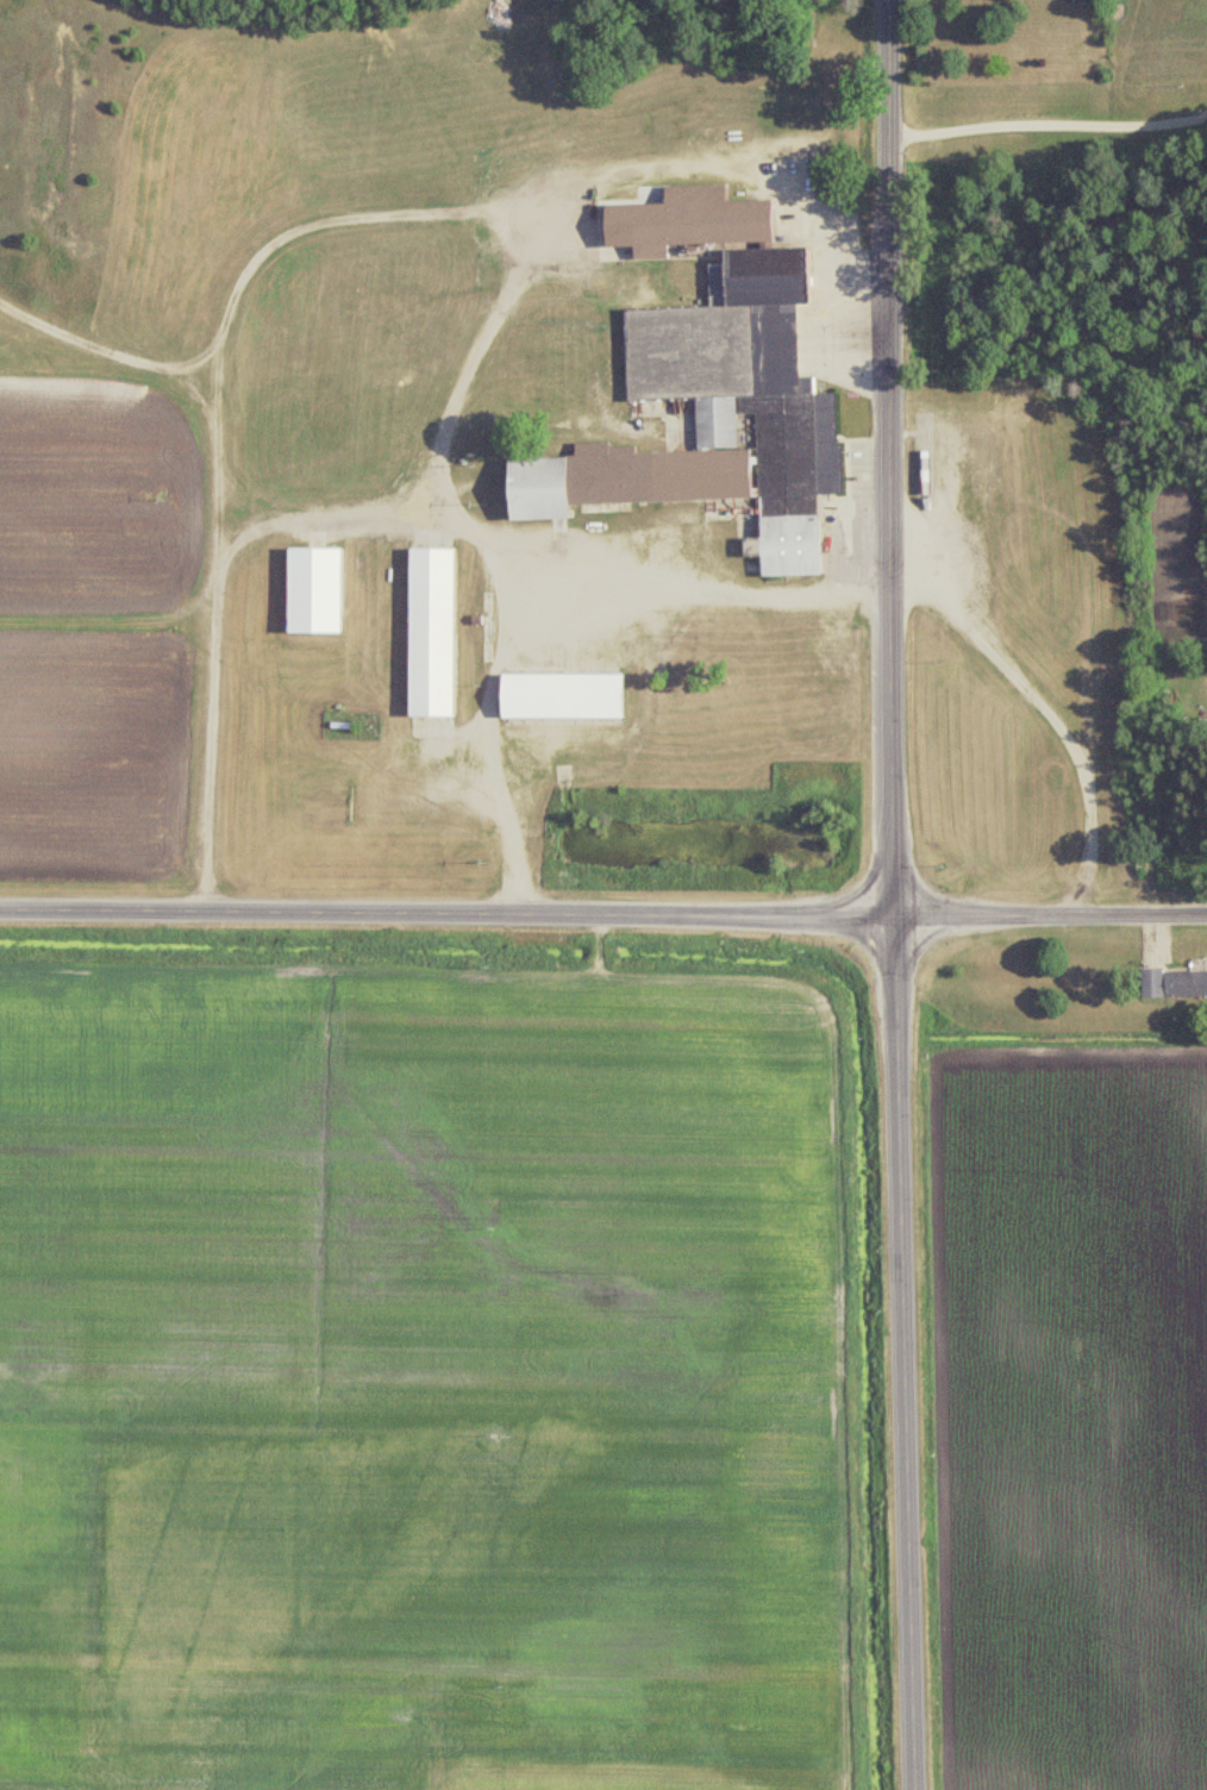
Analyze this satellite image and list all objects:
road: (1049, 123)
building: (688, 357)
road: (471, 370)
building: (784, 545)
building: (314, 561)
road: (701, 582)
road: (217, 608)
building: (431, 631)
building: (562, 695)
road: (898, 895)
road: (602, 910)
building: (1174, 984)

